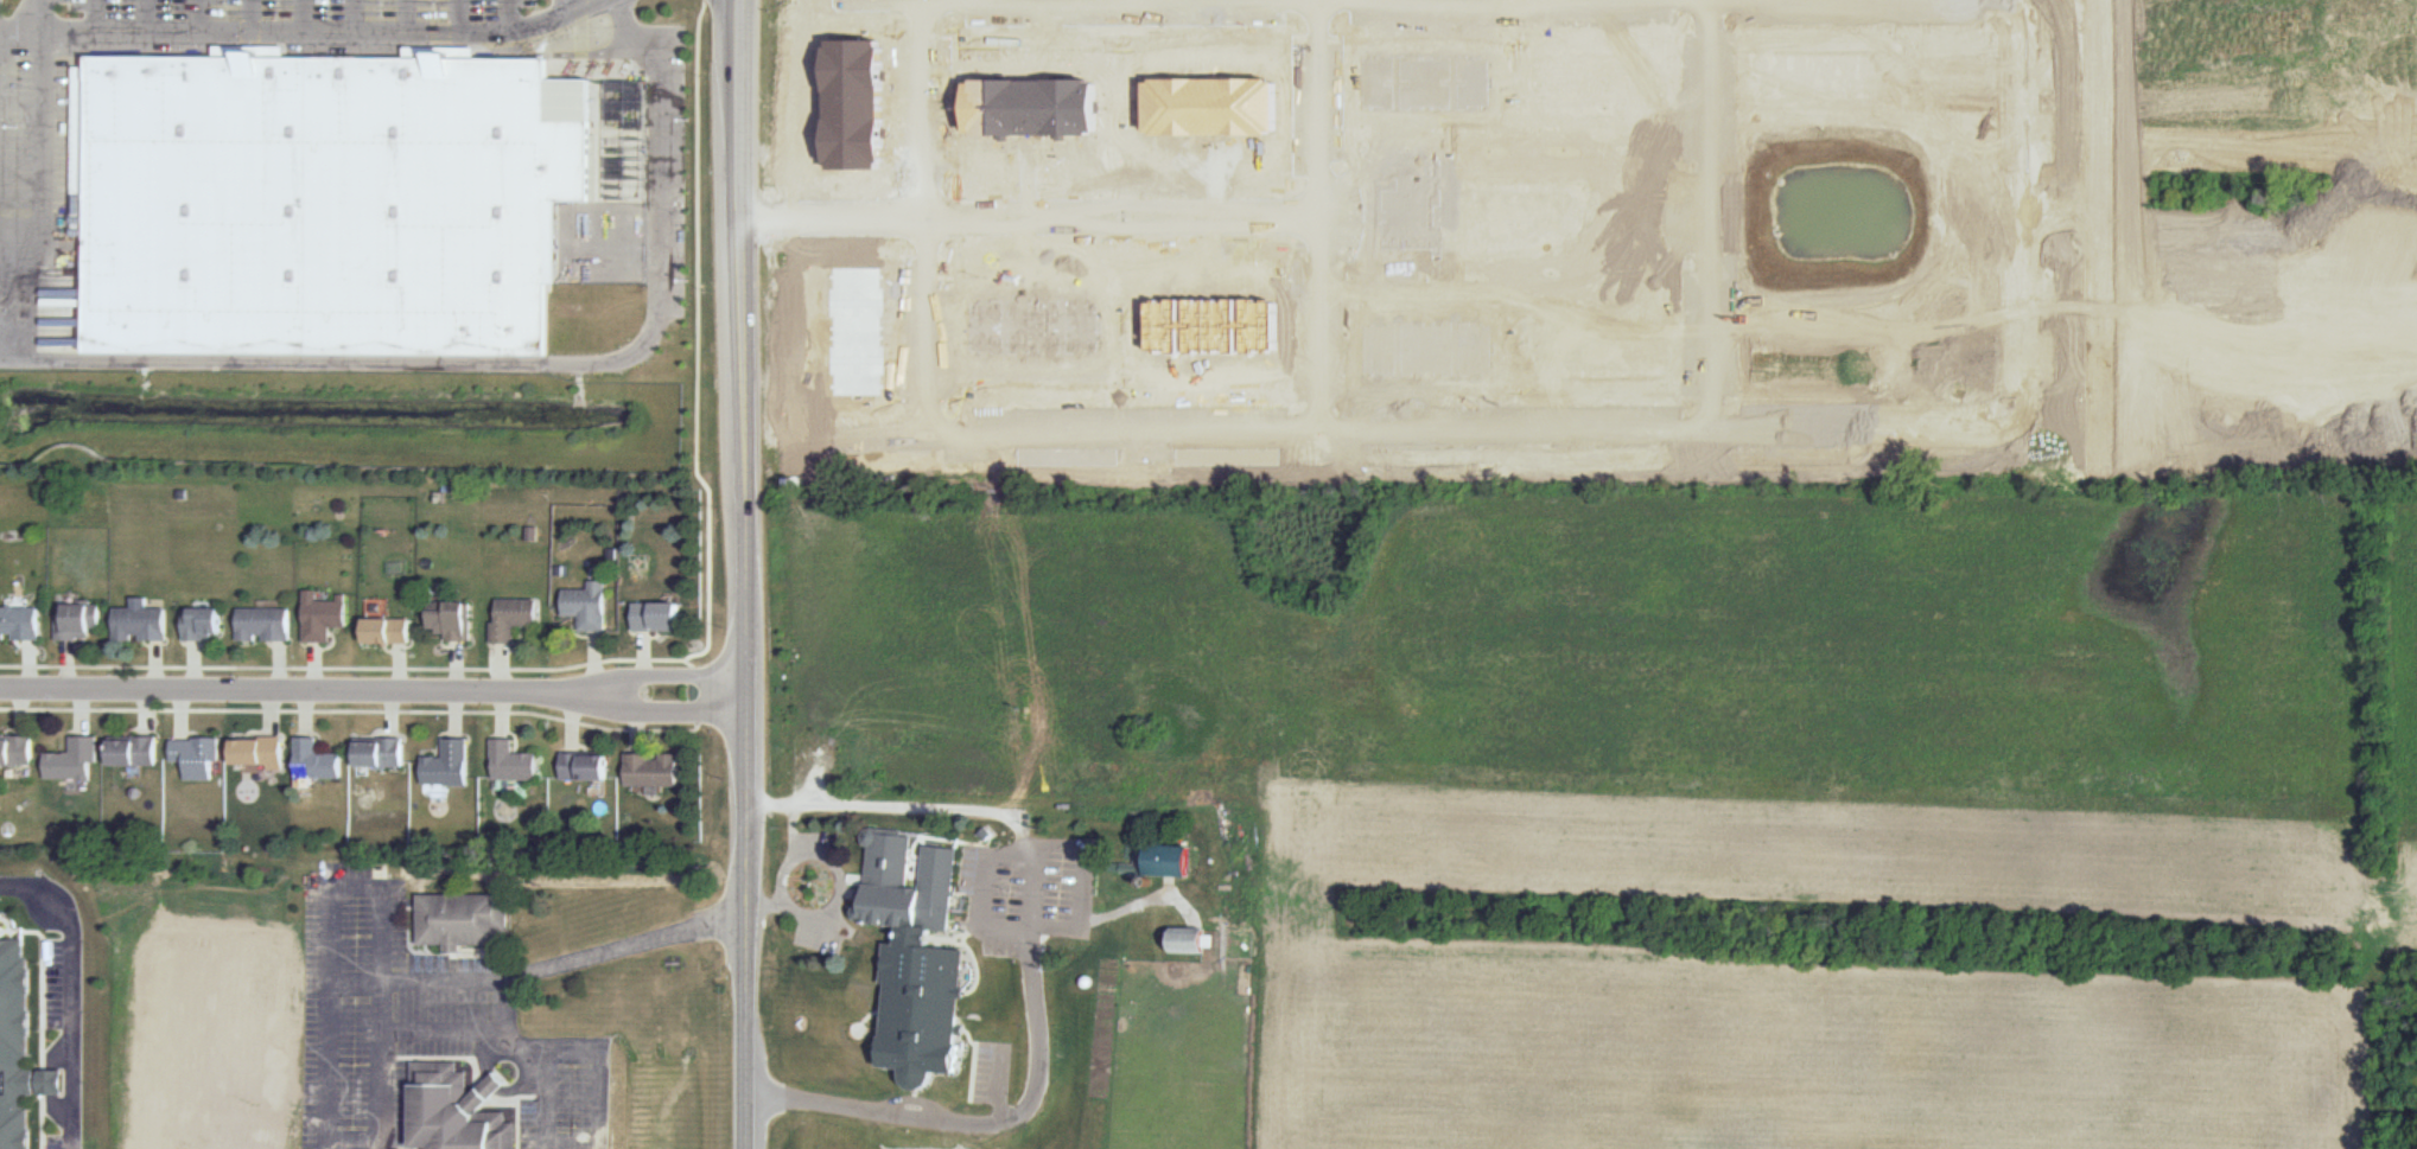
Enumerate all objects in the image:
road: (564, 6)
road: (97, 15)
road: (148, 15)
road: (198, 15)
road: (250, 15)
road: (305, 15)
road: (357, 15)
road: (406, 15)
road: (509, 15)
road: (460, 17)
road: (622, 26)
crop: (1507, 26)
road: (23, 31)
road: (307, 32)
road: (554, 55)
road: (657, 110)
parking lot: (669, 114)
parking lot: (34, 141)
crop: (1658, 145)
road: (45, 166)
building: (341, 198)
road: (895, 218)
road: (698, 343)
crop: (1558, 344)
road: (397, 360)
road: (751, 574)
building: (590, 606)
building: (659, 617)
building: (514, 618)
building: (324, 619)
building: (453, 619)
building: (77, 620)
building: (140, 621)
building: (20, 623)
building: (202, 624)
building: (265, 624)
building: (389, 631)
road: (644, 657)
road: (30, 665)
road: (69, 666)
road: (157, 666)
road: (193, 666)
road: (596, 666)
road: (279, 668)
road: (316, 668)
road: (343, 668)
road: (400, 669)
road: (504, 669)
road: (659, 679)
road: (457, 690)
crop: (1649, 690)
road: (284, 694)
road: (20, 713)
road: (381, 713)
road: (659, 713)
crop: (2409, 713)
road: (79, 714)
road: (142, 714)
road: (390, 715)
road: (637, 715)
road: (178, 716)
road: (269, 716)
road: (305, 716)
road: (504, 717)
road: (570, 723)
building: (15, 751)
building: (133, 751)
building: (379, 753)
building: (256, 754)
building: (195, 758)
building: (74, 761)
building: (314, 761)
building: (513, 762)
building: (447, 765)
building: (585, 765)
building: (653, 771)
road: (971, 812)
building: (1168, 858)
building: (890, 866)
road: (844, 868)
road: (1083, 887)
road: (783, 896)
road: (768, 904)
road: (331, 914)
building: (463, 918)
building: (1187, 939)
road: (356, 985)
road: (69, 994)
road: (503, 1006)
road: (384, 1007)
building: (14, 1038)
road: (482, 1055)
crop: (1776, 1055)
road: (600, 1077)
building: (49, 1080)
road: (994, 1083)
road: (497, 1084)
road: (522, 1092)
road: (542, 1100)
building: (460, 1111)
road: (980, 1121)

